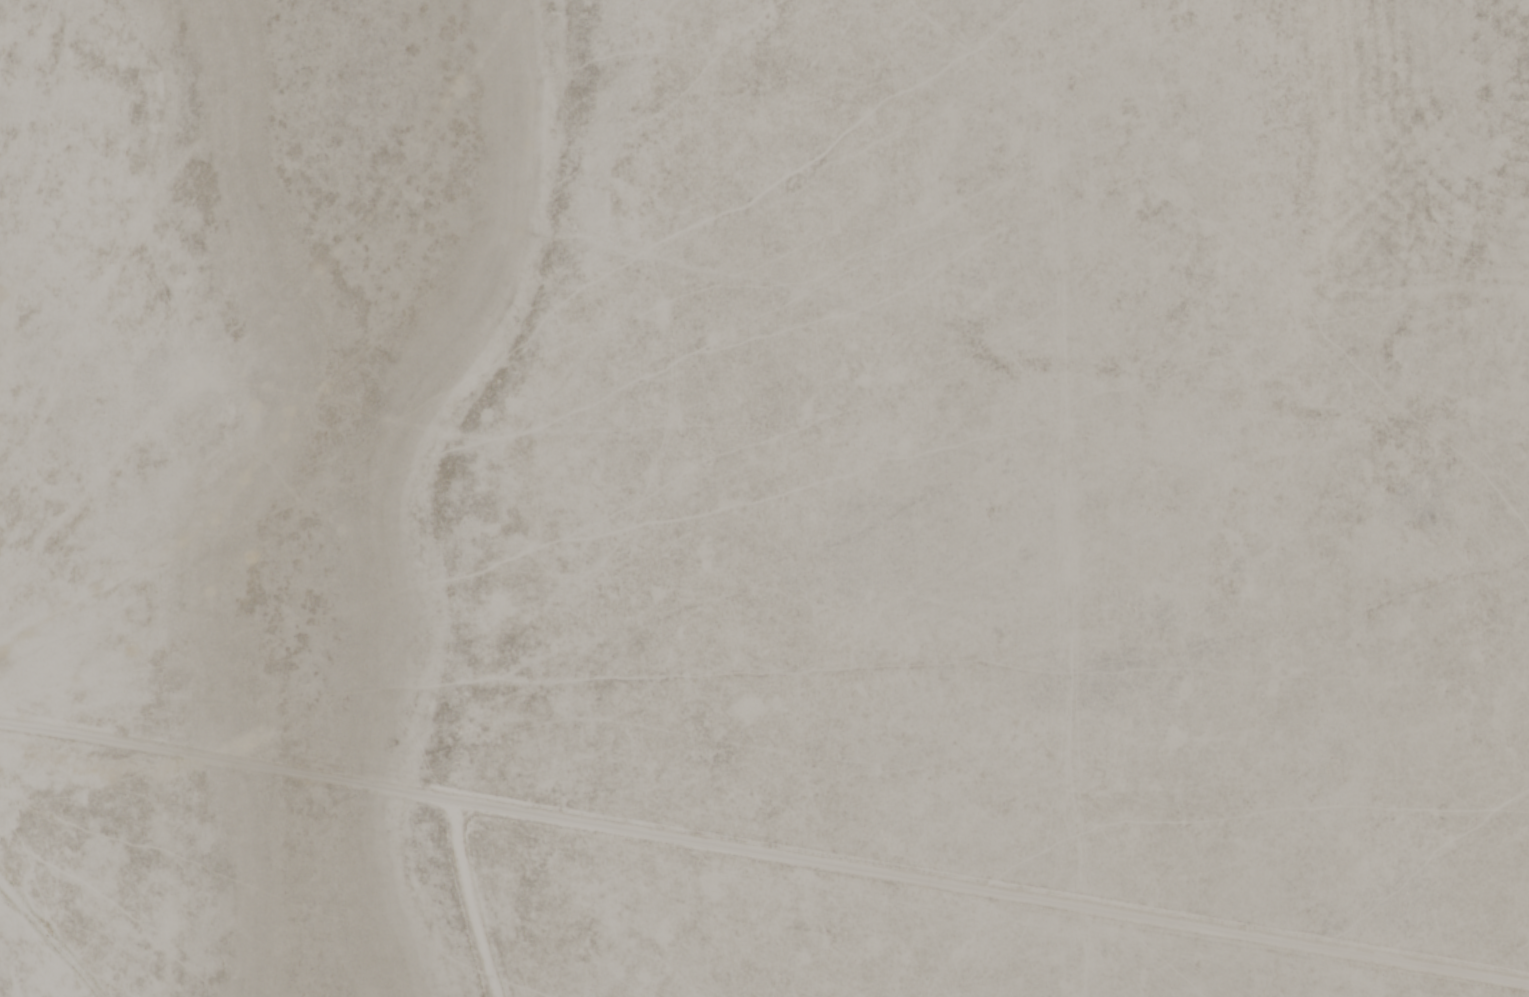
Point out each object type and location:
road: (215, 768)
road: (450, 905)
road: (960, 912)

